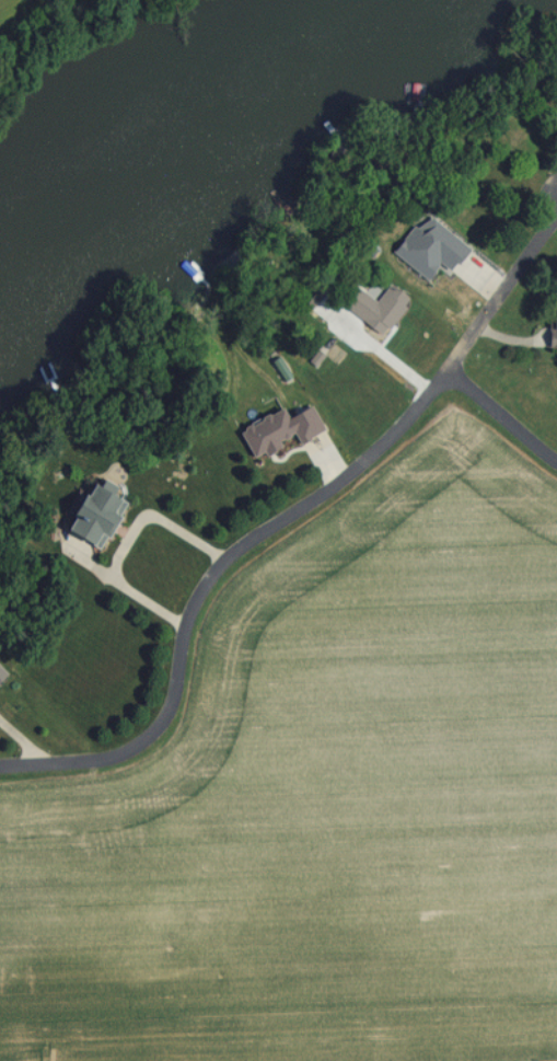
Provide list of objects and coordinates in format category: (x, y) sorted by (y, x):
building: (417, 240)
road: (501, 292)
building: (375, 307)
building: (552, 332)
road: (502, 416)
building: (91, 514)
road: (124, 543)
road: (208, 585)

